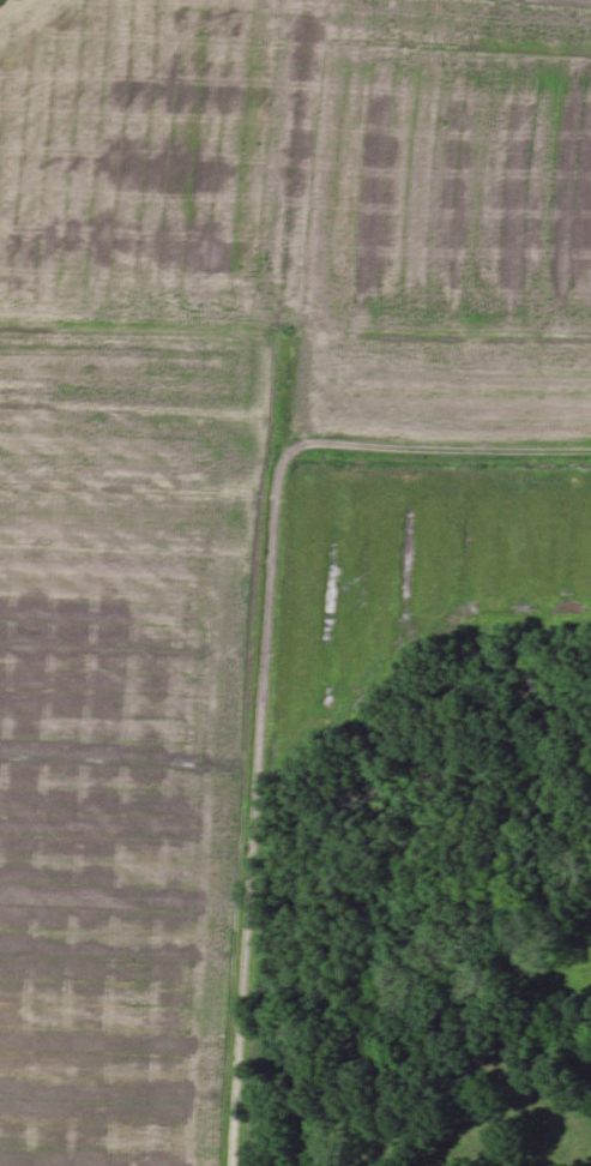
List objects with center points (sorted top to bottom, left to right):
crop: (319, 198)
crop: (403, 564)
road: (266, 660)
crop: (127, 733)
crop: (567, 944)

